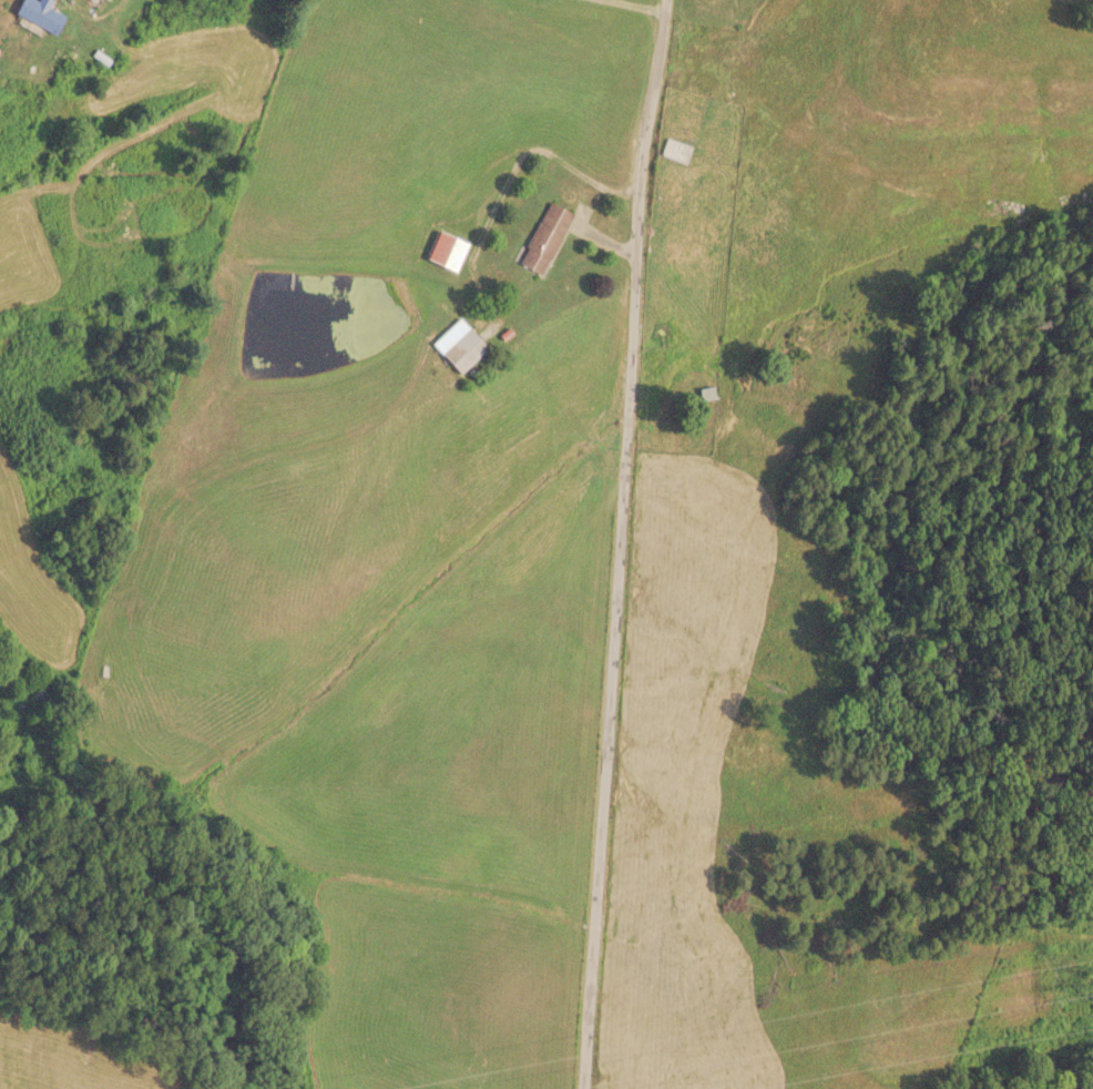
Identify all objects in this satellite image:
building: (37, 13)
building: (673, 150)
building: (542, 237)
building: (457, 346)
road: (611, 543)

